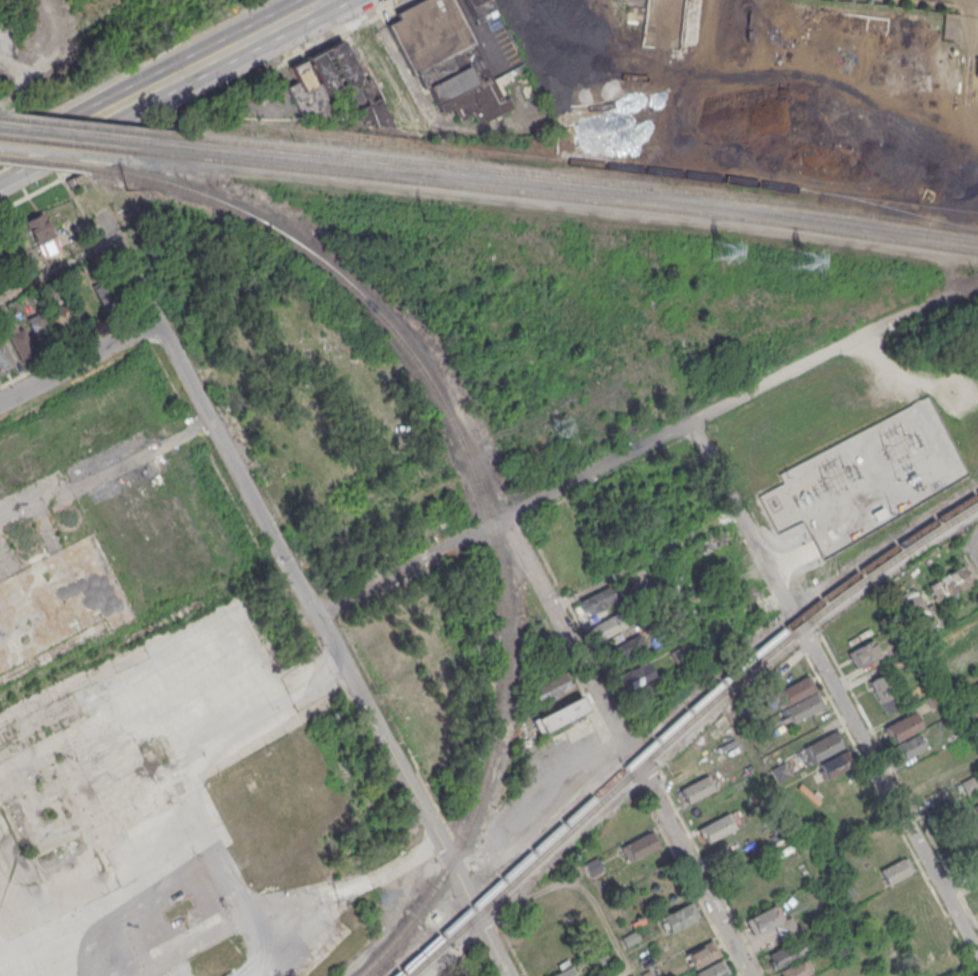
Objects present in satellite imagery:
road: (321, 4)
road: (974, 8)
building: (663, 24)
building: (492, 33)
road: (972, 37)
road: (247, 45)
building: (449, 61)
building: (976, 69)
road: (968, 80)
building: (360, 88)
building: (309, 93)
road: (794, 111)
road: (964, 124)
railway: (81, 126)
road: (90, 129)
railway: (74, 135)
railway: (66, 144)
railway: (49, 163)
railway: (605, 167)
railway: (571, 179)
power tower: (125, 188)
railway: (563, 188)
railway: (555, 197)
road: (30, 200)
railway: (899, 212)
power tower: (423, 220)
building: (38, 228)
power tower: (719, 251)
power tower: (801, 261)
building: (0, 263)
road: (57, 269)
building: (50, 289)
building: (104, 295)
building: (14, 307)
building: (65, 321)
building: (43, 333)
building: (21, 345)
building: (5, 358)
road: (79, 362)
road: (894, 366)
road: (725, 406)
road: (921, 472)
power substation: (868, 477)
railway: (480, 491)
road: (843, 530)
road: (973, 533)
road: (274, 538)
road: (973, 545)
road: (645, 557)
road: (794, 557)
building: (954, 581)
building: (642, 588)
building: (597, 599)
road: (672, 604)
building: (920, 614)
building: (607, 626)
road: (572, 643)
building: (626, 647)
building: (681, 653)
building: (863, 653)
building: (636, 675)
building: (773, 676)
building: (549, 685)
road: (834, 690)
building: (794, 691)
building: (884, 693)
building: (934, 699)
building: (803, 707)
building: (970, 710)
building: (559, 714)
railway: (675, 721)
railway: (683, 727)
building: (901, 727)
building: (821, 747)
building: (910, 747)
building: (835, 765)
building: (780, 771)
road: (937, 783)
building: (969, 785)
building: (696, 788)
road: (535, 802)
building: (976, 809)
building: (716, 828)
building: (965, 830)
building: (638, 846)
road: (217, 848)
building: (592, 865)
road: (694, 871)
building: (893, 871)
road: (960, 880)
road: (578, 886)
building: (905, 891)
building: (678, 917)
building: (762, 918)
road: (479, 919)
building: (784, 927)
building: (630, 937)
building: (934, 941)
building: (839, 950)
building: (700, 953)
building: (785, 953)
building: (602, 960)
park: (469, 967)
building: (712, 969)
building: (794, 969)
building: (563, 972)
building: (645, 973)

